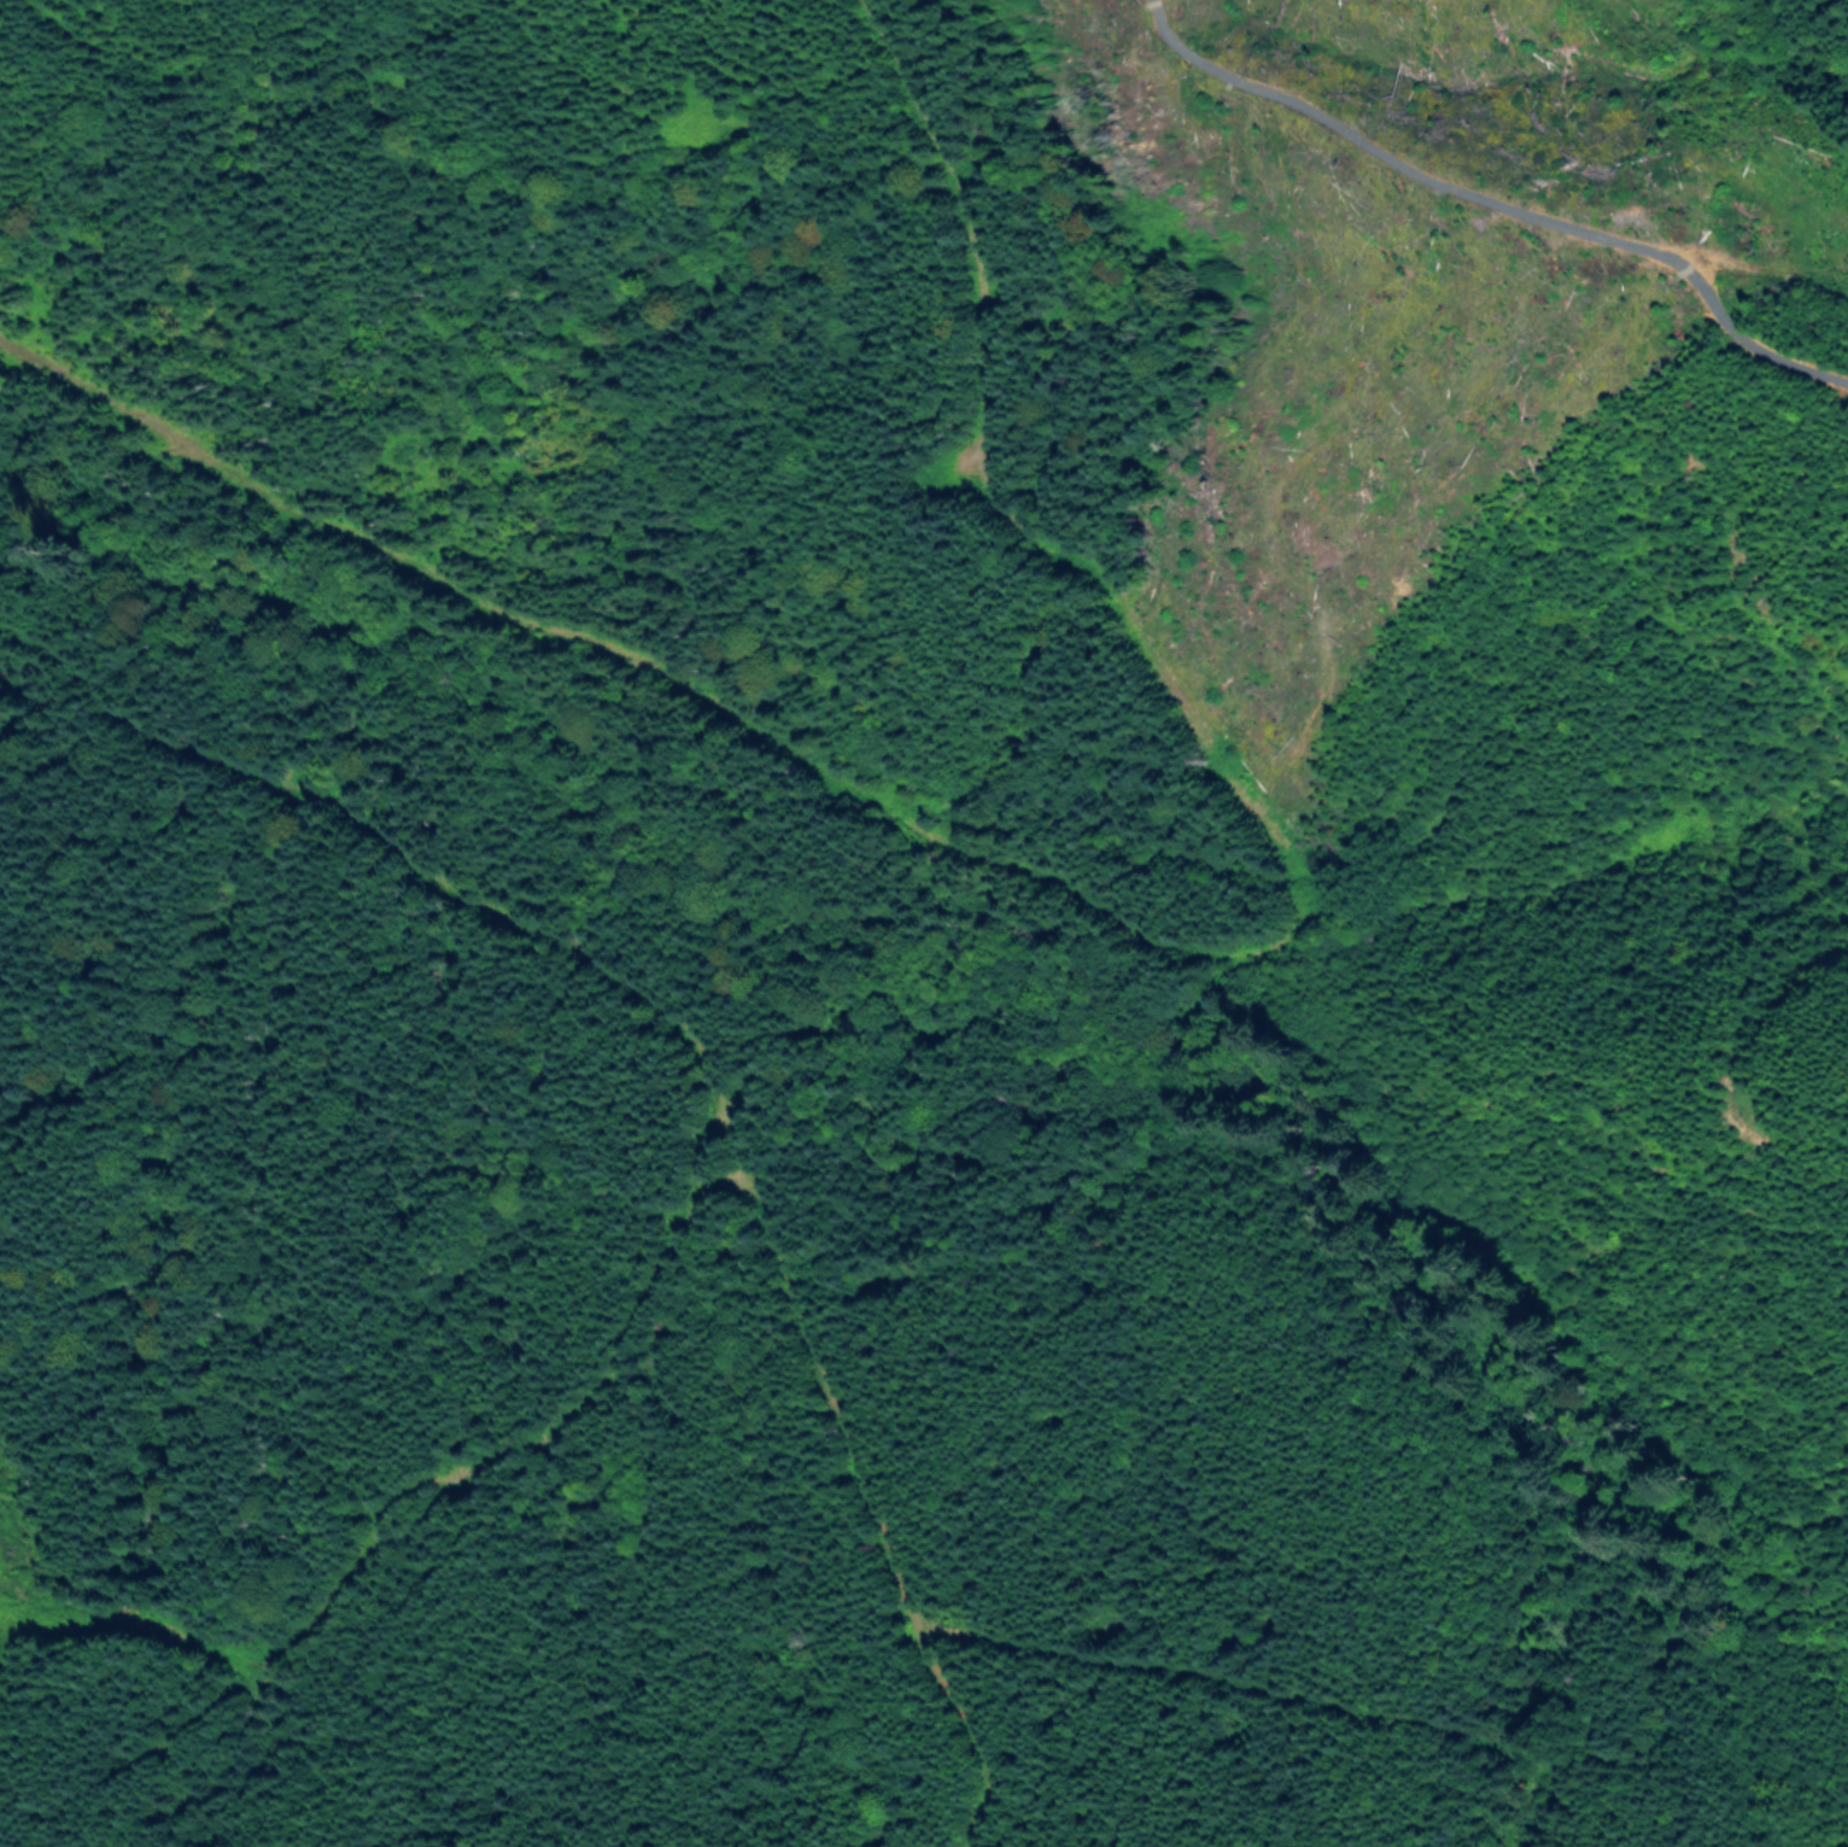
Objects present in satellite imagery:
road: (1086, 489)

